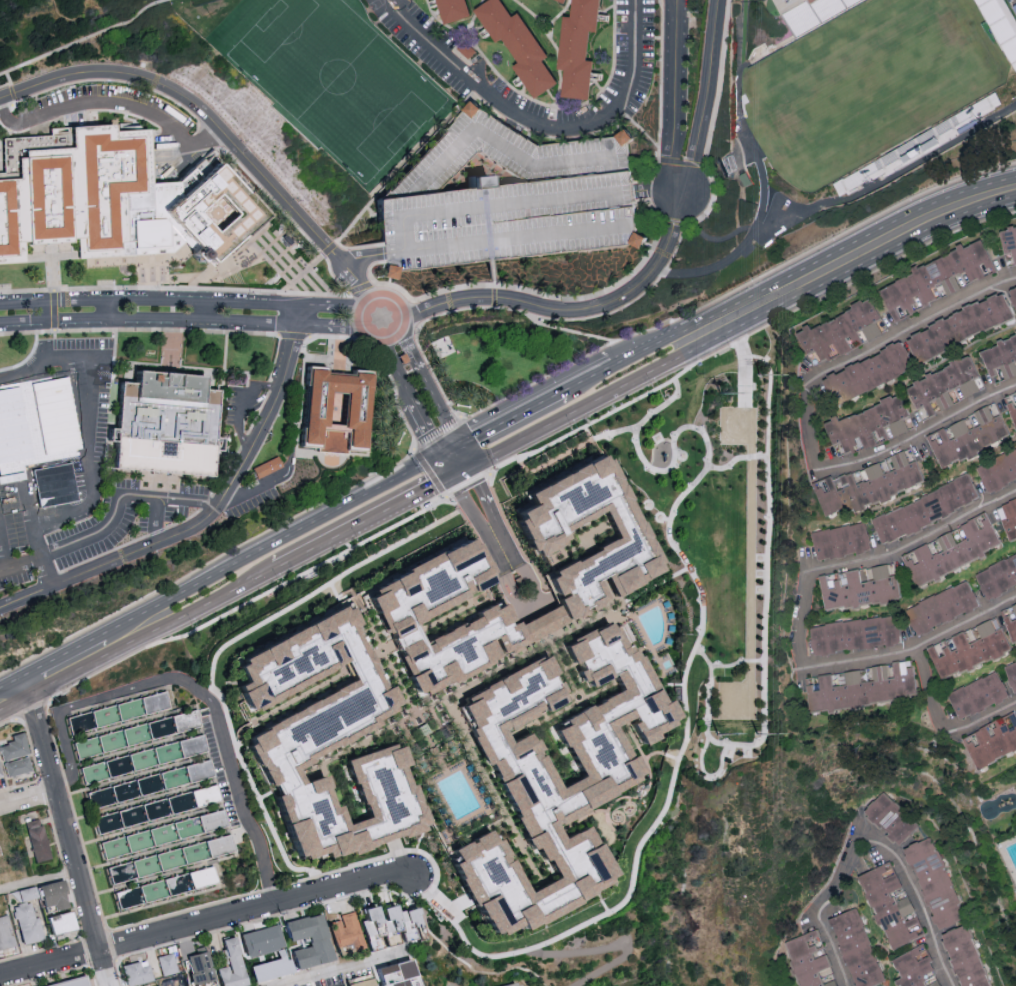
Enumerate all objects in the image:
building: (561, 0)
building: (789, 0)
road: (428, 3)
park: (32, 8)
building: (451, 10)
building: (1001, 28)
road: (80, 43)
building: (516, 45)
building: (575, 48)
parking lot: (460, 74)
park: (338, 82)
road: (11, 85)
park: (863, 87)
road: (675, 95)
road: (14, 96)
road: (705, 97)
road: (113, 103)
road: (191, 105)
building: (470, 108)
parking lot: (109, 110)
road: (537, 123)
road: (423, 145)
road: (19, 161)
road: (652, 191)
parking lot: (503, 198)
building: (85, 200)
road: (496, 208)
building: (206, 215)
building: (498, 220)
building: (1008, 241)
road: (518, 243)
road: (333, 248)
road: (853, 257)
road: (377, 258)
road: (319, 260)
road: (25, 261)
road: (52, 272)
road: (351, 272)
building: (935, 277)
building: (952, 283)
road: (493, 285)
road: (327, 288)
road: (738, 288)
road: (144, 290)
building: (1013, 298)
road: (148, 302)
road: (582, 302)
road: (380, 303)
road: (343, 308)
road: (407, 308)
road: (106, 311)
road: (370, 312)
road: (52, 313)
road: (206, 313)
road: (295, 317)
road: (395, 319)
road: (147, 320)
road: (412, 322)
building: (959, 325)
road: (336, 328)
road: (389, 328)
road: (552, 328)
building: (870, 329)
building: (837, 330)
road: (906, 330)
road: (53, 331)
road: (86, 332)
road: (251, 335)
road: (751, 335)
road: (652, 346)
road: (172, 352)
building: (1000, 356)
building: (402, 360)
road: (394, 363)
road: (663, 366)
building: (867, 371)
road: (345, 376)
power tower: (761, 377)
road: (588, 379)
building: (941, 384)
road: (430, 386)
road: (394, 390)
power tower: (723, 396)
road: (599, 399)
building: (1011, 405)
road: (242, 408)
building: (351, 409)
road: (508, 420)
building: (160, 423)
building: (865, 424)
road: (422, 429)
road: (811, 429)
road: (616, 432)
building: (966, 433)
parking lot: (53, 435)
road: (921, 435)
road: (86, 440)
road: (516, 442)
road: (50, 447)
traffic signals: (454, 448)
road: (447, 451)
road: (18, 455)
road: (456, 460)
road: (738, 460)
road: (449, 463)
building: (998, 469)
road: (429, 472)
traffic signals: (458, 472)
building: (865, 482)
building: (52, 484)
road: (252, 489)
road: (353, 502)
building: (923, 507)
road: (750, 514)
building: (1008, 516)
road: (481, 517)
road: (367, 520)
road: (157, 522)
road: (112, 525)
road: (203, 525)
parking lot: (99, 530)
building: (539, 536)
road: (915, 537)
park: (724, 538)
building: (839, 539)
road: (21, 542)
road: (3, 545)
building: (950, 549)
road: (208, 565)
building: (997, 576)
building: (858, 585)
road: (183, 592)
road: (532, 602)
road: (766, 602)
building: (942, 606)
building: (402, 610)
road: (194, 611)
road: (802, 617)
building: (1010, 619)
building: (853, 633)
road: (375, 640)
road: (910, 643)
road: (225, 646)
building: (968, 647)
road: (726, 666)
road: (69, 668)
road: (567, 671)
road: (494, 672)
building: (1011, 673)
road: (683, 684)
building: (861, 685)
road: (929, 688)
road: (195, 690)
building: (978, 694)
road: (14, 696)
road: (557, 715)
road: (985, 715)
building: (322, 725)
power tower: (757, 736)
power tower: (720, 737)
building: (992, 739)
building: (14, 747)
road: (662, 753)
building: (17, 766)
building: (0, 773)
road: (707, 776)
building: (600, 785)
road: (646, 789)
road: (493, 790)
road: (29, 797)
building: (145, 806)
building: (889, 816)
road: (70, 836)
building: (35, 840)
road: (838, 871)
road: (39, 882)
road: (916, 899)
road: (603, 902)
building: (890, 903)
building: (947, 911)
building: (23, 913)
building: (58, 922)
road: (206, 923)
building: (374, 927)
building: (5, 933)
building: (260, 940)
road: (605, 947)
road: (828, 947)
building: (855, 947)
building: (296, 948)
building: (807, 958)
building: (166, 964)
building: (230, 964)
building: (199, 968)
building: (915, 968)
road: (347, 969)
building: (134, 973)
building: (826, 973)
building: (386, 975)
building: (69, 982)
building: (512, 985)

